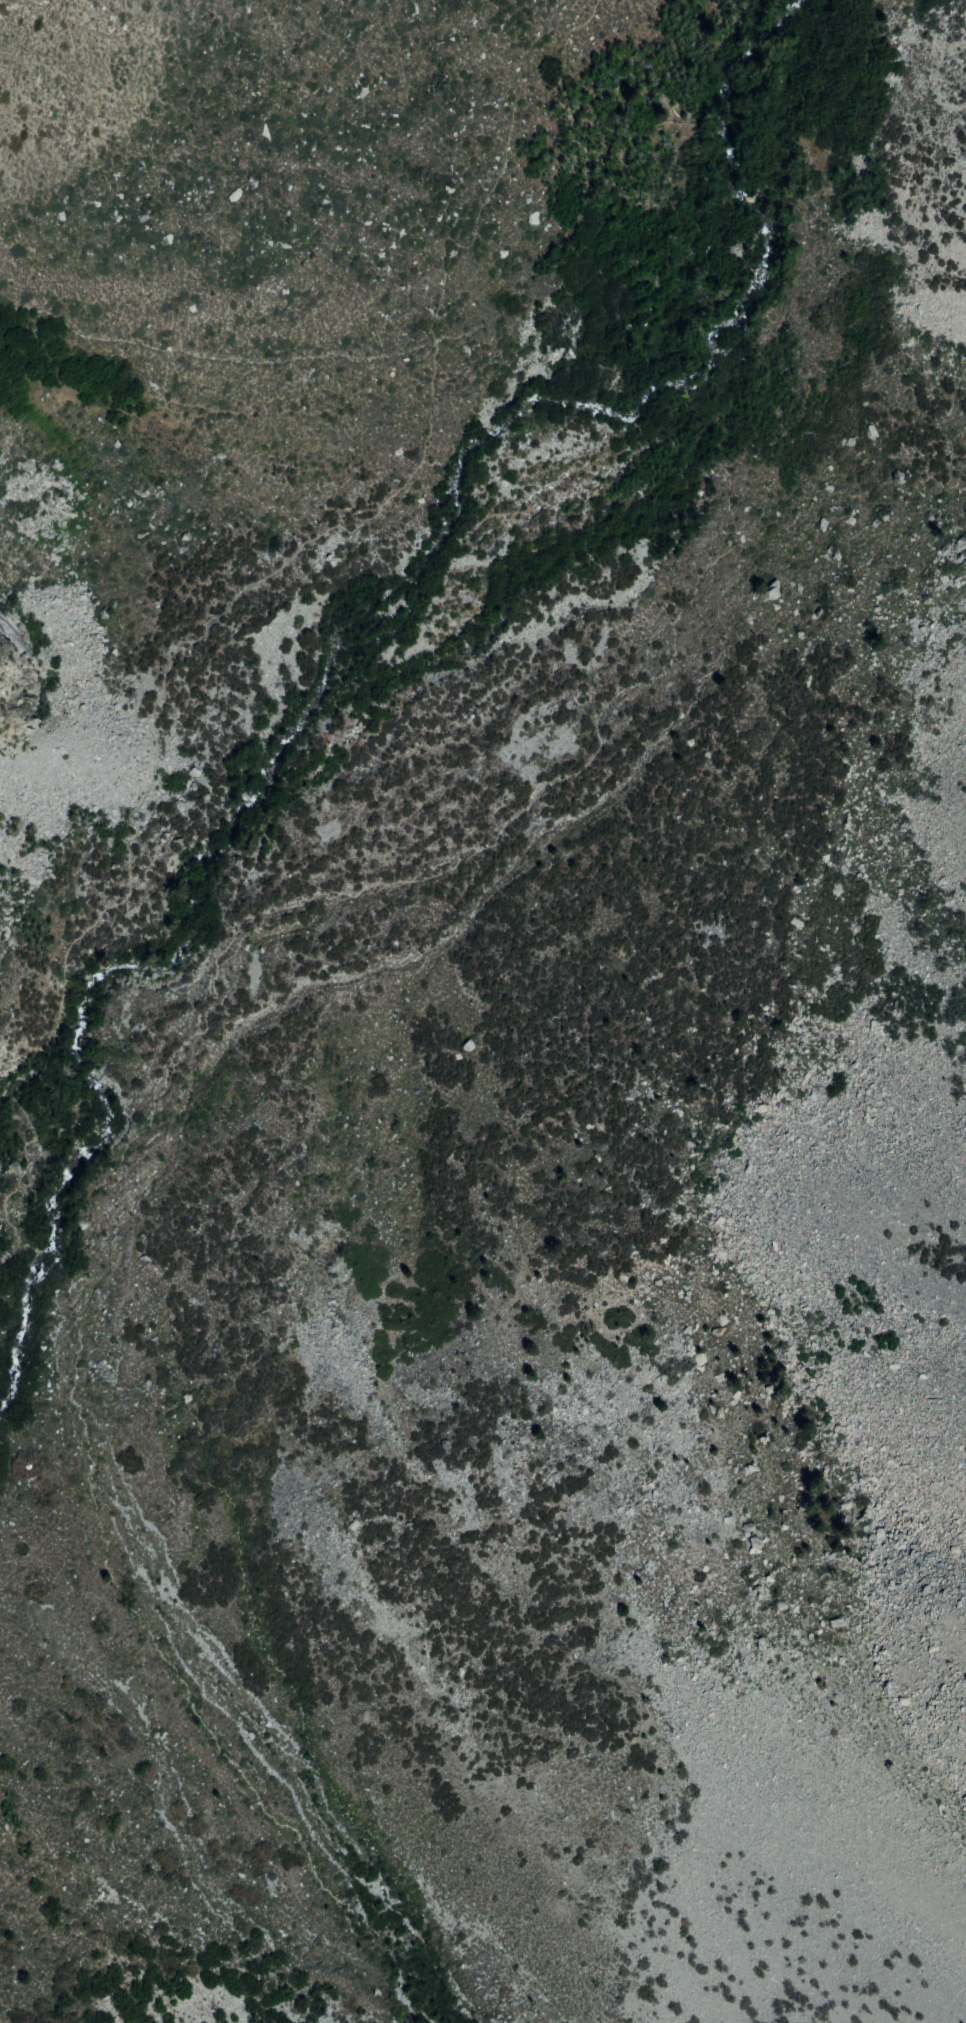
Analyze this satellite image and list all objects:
road: (239, 590)

